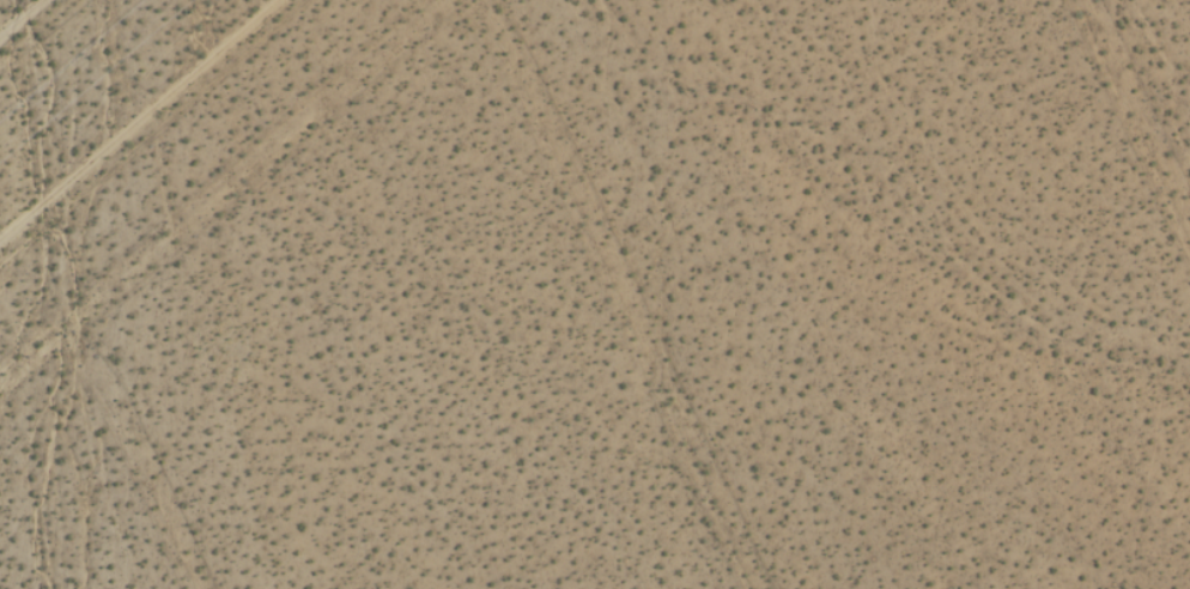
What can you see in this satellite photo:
road: (140, 121)

